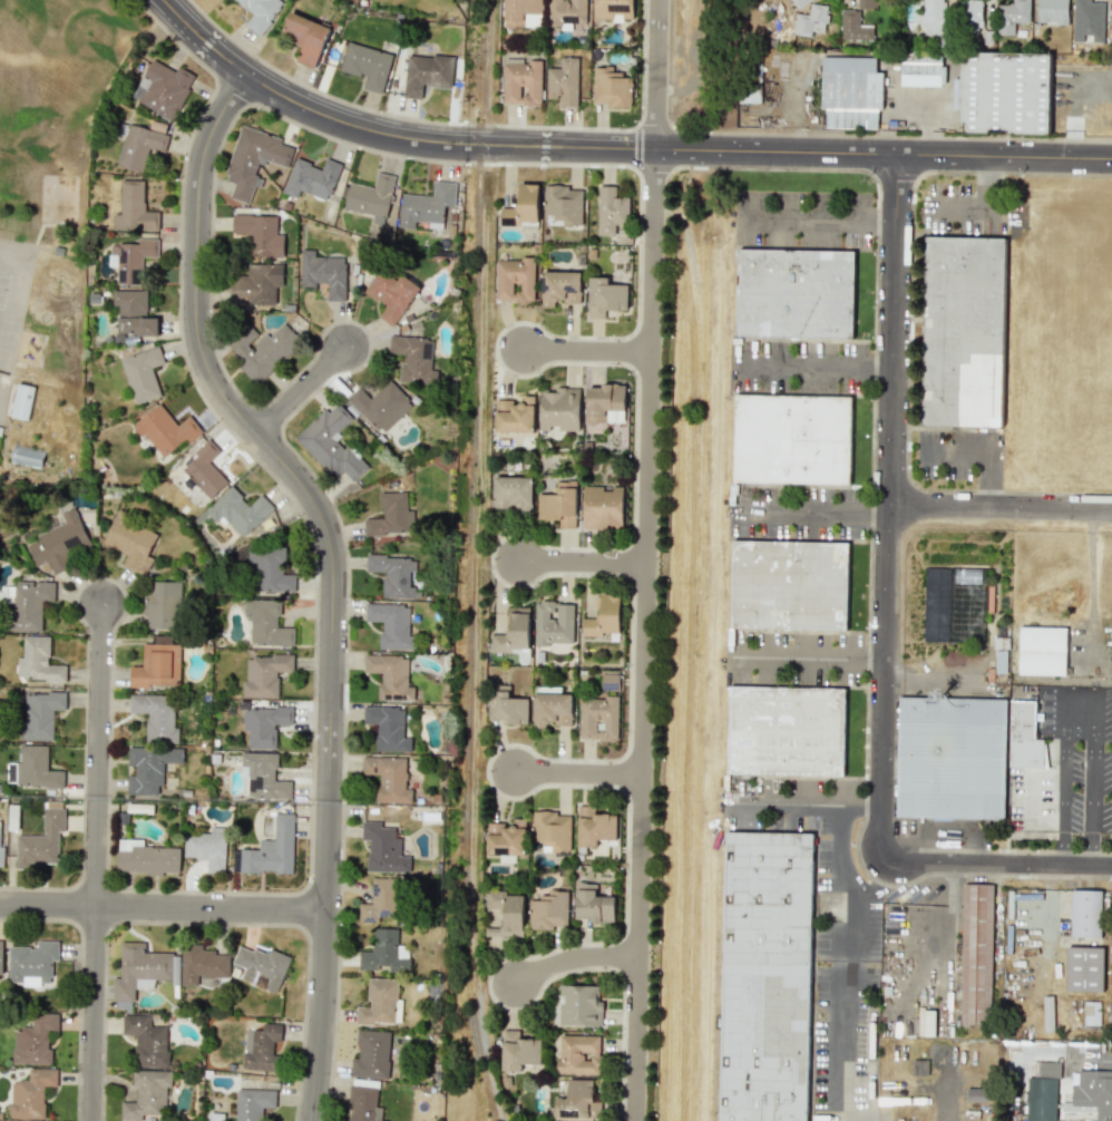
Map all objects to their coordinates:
building: (800, 2)
building: (866, 3)
rooftop solar panel: (620, 4)
building: (613, 9)
building: (1052, 11)
building: (260, 12)
building: (566, 12)
building: (523, 13)
building: (970, 14)
building: (1012, 16)
rooftop solar panel: (572, 17)
building: (931, 17)
building: (811, 20)
building: (853, 27)
building: (305, 37)
road: (205, 40)
railway: (480, 58)
building: (367, 65)
building: (921, 70)
park: (56, 72)
building: (426, 74)
building: (521, 81)
building: (563, 81)
building: (163, 88)
building: (612, 88)
building: (850, 91)
building: (1004, 92)
road: (445, 142)
building: (140, 144)
road: (881, 153)
building: (253, 160)
building: (311, 178)
building: (370, 197)
building: (563, 203)
building: (427, 206)
building: (521, 206)
building: (134, 207)
building: (611, 211)
road: (808, 218)
road: (884, 220)
building: (259, 234)
building: (130, 259)
building: (323, 273)
building: (515, 280)
building: (256, 285)
building: (560, 287)
building: (792, 293)
building: (391, 294)
building: (605, 296)
building: (133, 313)
building: (960, 330)
building: (261, 349)
rooftop solar panel: (428, 349)
road: (585, 351)
building: (413, 359)
road: (804, 367)
road: (879, 368)
building: (143, 374)
road: (302, 391)
building: (21, 401)
building: (605, 403)
building: (380, 406)
building: (559, 409)
building: (515, 415)
building: (165, 429)
building: (790, 438)
building: (331, 443)
road: (985, 454)
building: (26, 456)
building: (204, 470)
building: (514, 493)
building: (559, 505)
building: (602, 506)
road: (887, 508)
building: (238, 511)
road: (799, 511)
road: (876, 514)
road: (998, 516)
building: (391, 517)
rooftop solar panel: (70, 542)
building: (131, 542)
building: (59, 543)
building: (266, 555)
road: (644, 559)
road: (477, 562)
road: (579, 563)
road: (333, 569)
building: (394, 574)
building: (275, 582)
building: (786, 585)
building: (27, 603)
building: (163, 605)
building: (604, 617)
building: (266, 623)
building: (390, 623)
building: (553, 623)
building: (513, 631)
railway: (467, 644)
building: (1042, 651)
road: (796, 657)
road: (872, 660)
building: (37, 661)
building: (157, 665)
building: (264, 674)
building: (390, 676)
road: (940, 680)
building: (507, 706)
road: (1080, 706)
building: (552, 709)
building: (40, 714)
building: (156, 715)
building: (598, 718)
building: (264, 724)
building: (387, 728)
building: (782, 729)
building: (1023, 737)
building: (956, 759)
building: (149, 768)
building: (32, 769)
road: (575, 773)
building: (263, 776)
building: (388, 778)
road: (788, 810)
road: (861, 811)
building: (594, 827)
building: (552, 830)
building: (506, 838)
building: (0, 841)
building: (41, 841)
building: (206, 848)
building: (382, 848)
building: (272, 850)
rooftop solar panel: (504, 852)
building: (146, 857)
road: (99, 862)
road: (995, 865)
road: (850, 881)
rooftop solar panel: (377, 890)
building: (380, 900)
building: (593, 904)
road: (164, 908)
building: (548, 910)
rooftop solar panel: (387, 912)
building: (504, 914)
building: (1085, 914)
rooftop solar panel: (369, 919)
building: (383, 952)
building: (976, 954)
road: (570, 957)
building: (1, 958)
building: (32, 962)
building: (202, 964)
building: (262, 967)
building: (1084, 968)
building: (138, 972)
building: (762, 976)
building: (378, 1003)
building: (577, 1005)
building: (1090, 1013)
building: (925, 1022)
building: (35, 1040)
building: (146, 1041)
road: (847, 1044)
building: (261, 1046)
building: (518, 1051)
building: (371, 1054)
building: (578, 1054)
road: (1064, 1059)
building: (1092, 1091)
building: (1042, 1092)
building: (31, 1093)
building: (146, 1094)
building: (976, 1094)
building: (576, 1100)
building: (253, 1103)
building: (363, 1104)
rooftop solar panel: (572, 1114)

